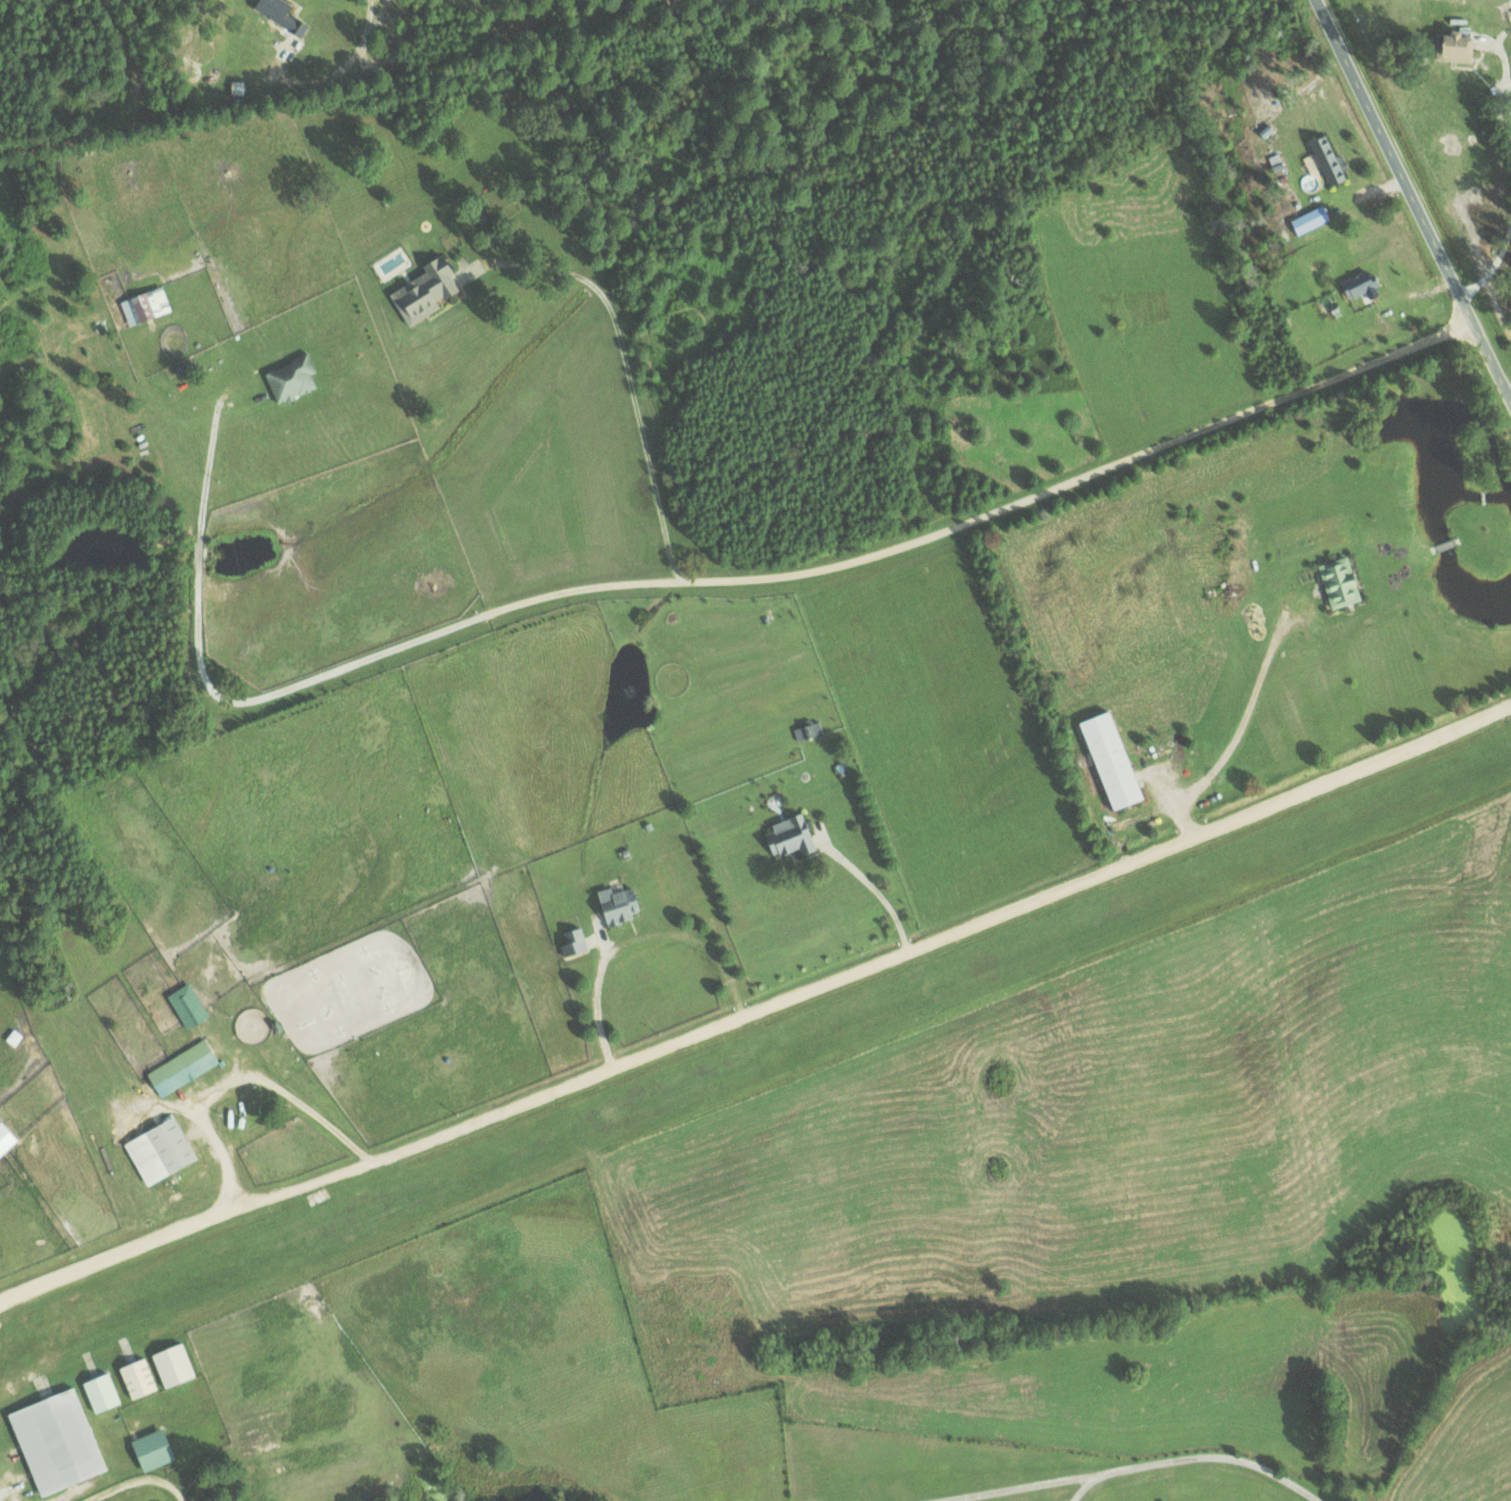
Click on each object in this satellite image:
building: (280, 14)
building: (1453, 44)
road: (335, 76)
building: (1326, 158)
road: (1414, 193)
building: (1308, 219)
building: (1359, 284)
building: (423, 290)
building: (140, 305)
road: (627, 371)
building: (290, 377)
road: (902, 516)
building: (1337, 581)
building: (1109, 759)
building: (788, 836)
building: (572, 941)
road: (756, 1002)
road: (597, 1003)
building: (188, 1008)
building: (12, 1037)
airport runway: (755, 1055)
building: (180, 1067)
building: (5, 1138)
building: (158, 1150)
building: (171, 1363)
building: (136, 1376)
building: (99, 1391)
building: (55, 1440)
building: (150, 1448)

